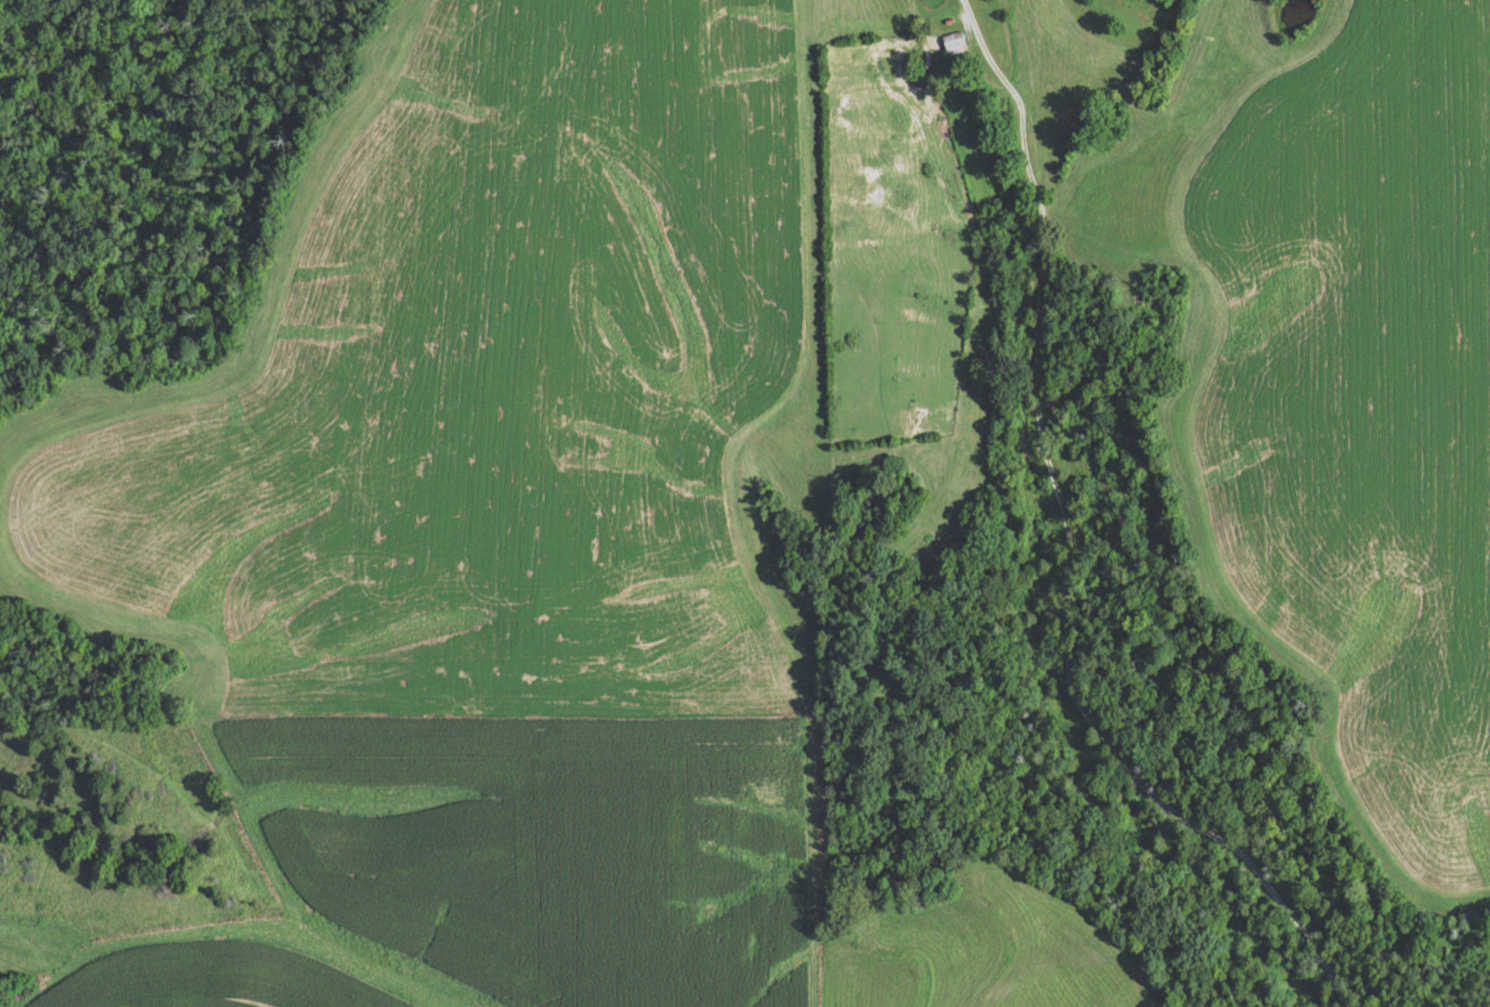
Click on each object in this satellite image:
building: (955, 41)
road: (1055, 538)

